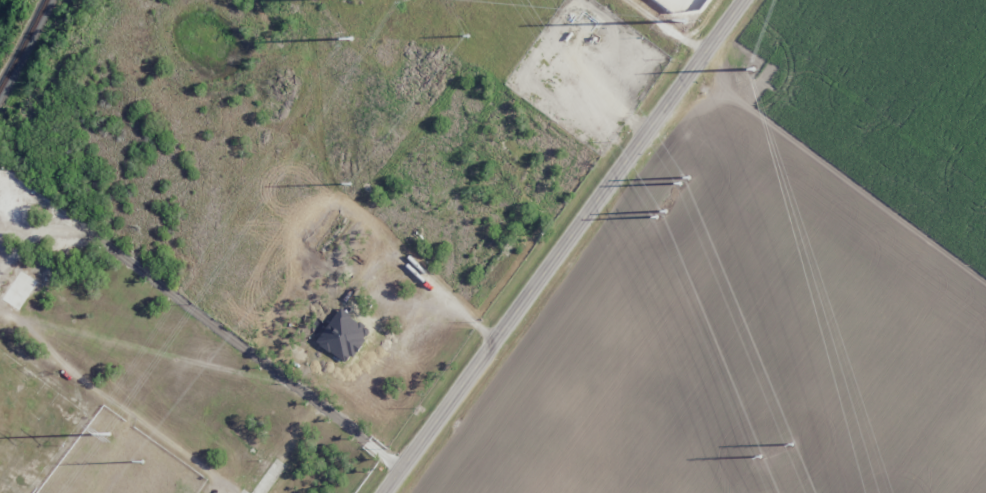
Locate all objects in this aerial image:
power substation: (679, 8)
power tower: (685, 20)
power tower: (468, 35)
power tower: (352, 38)
railway: (23, 42)
power tower: (753, 69)
road: (661, 112)
power tower: (683, 181)
power tower: (350, 183)
power tower: (658, 214)
crop: (775, 284)
building: (343, 335)
road: (483, 359)
power tower: (110, 433)
power tower: (789, 443)
power tower: (756, 457)
road: (167, 459)
power tower: (142, 462)
road: (359, 480)

